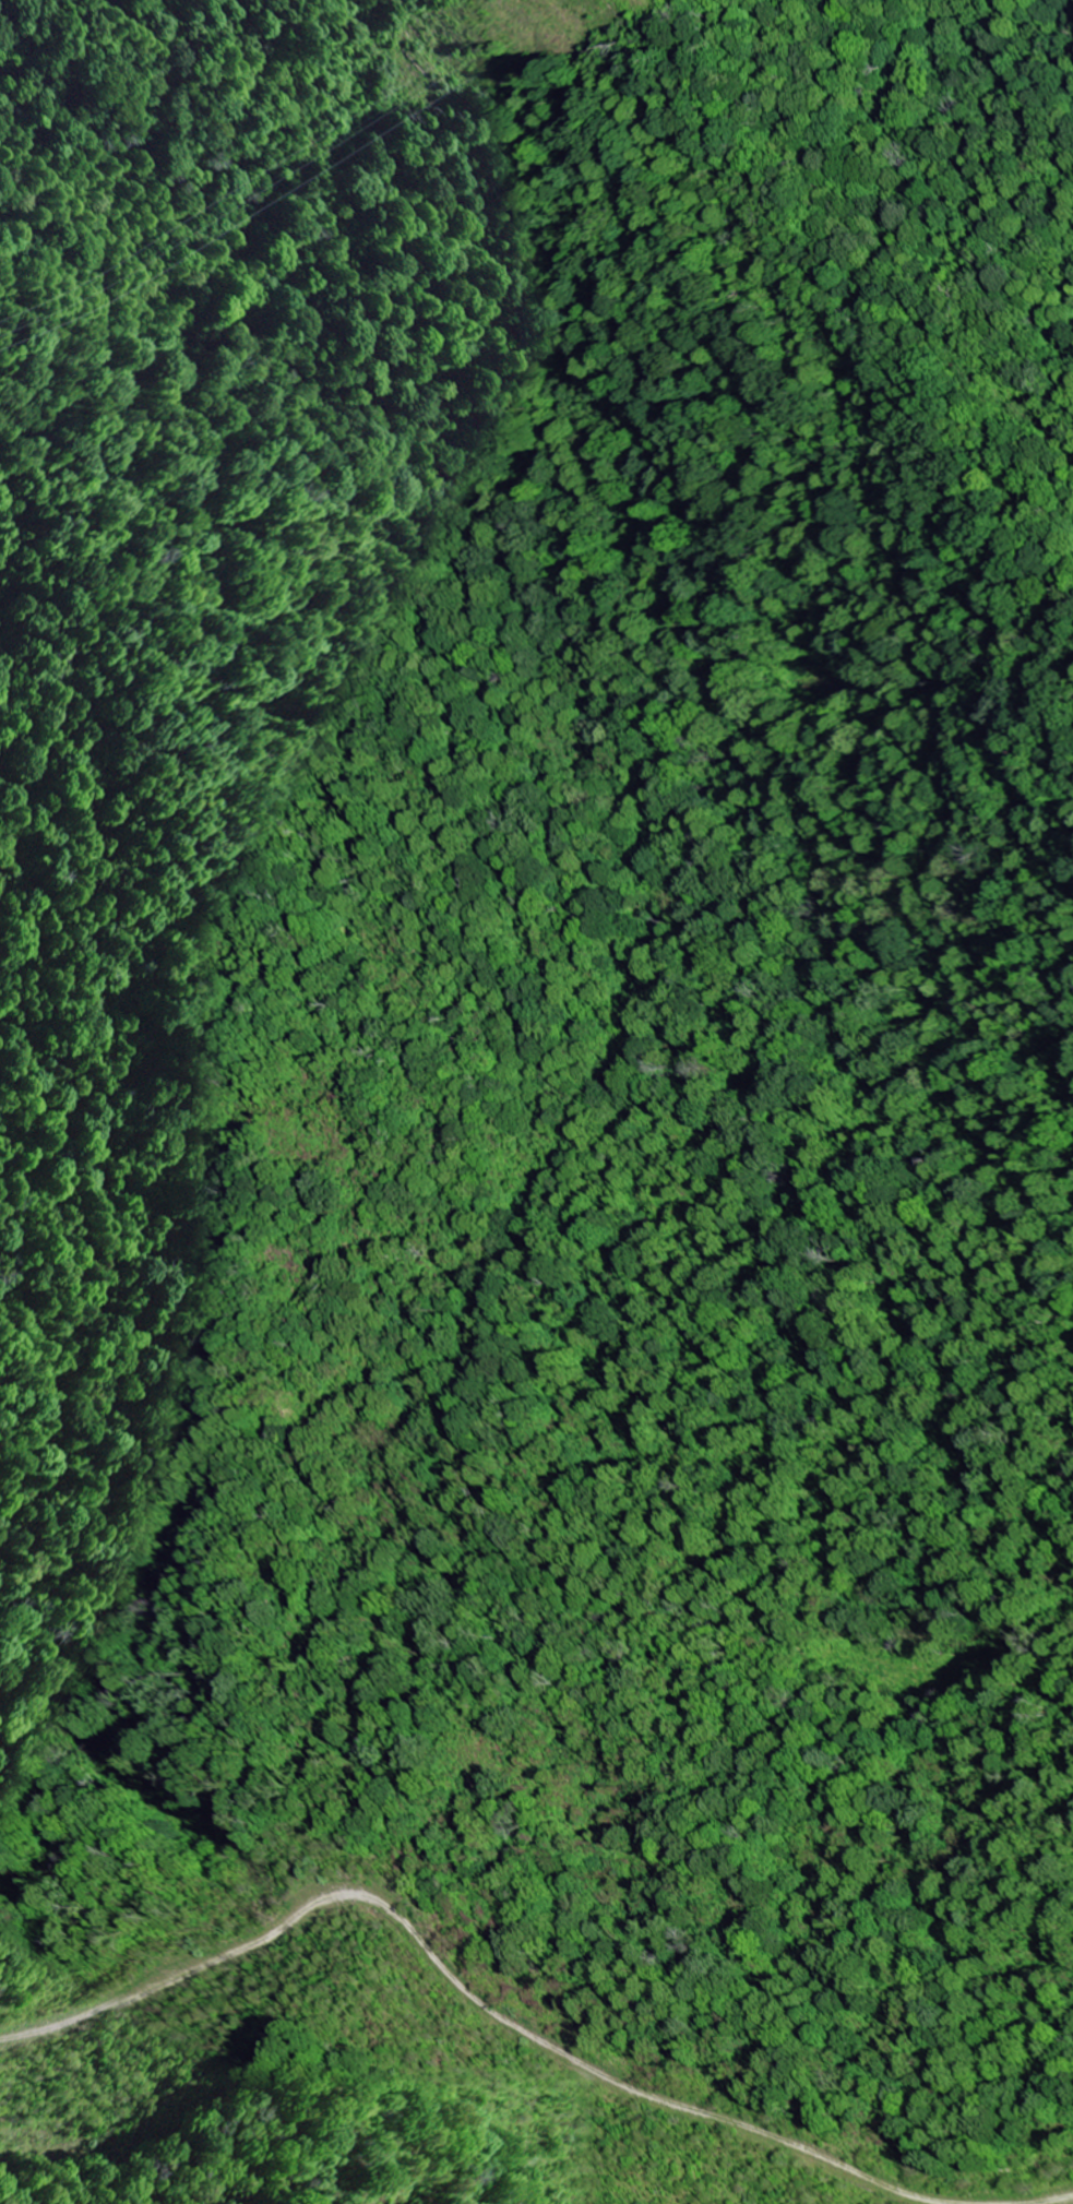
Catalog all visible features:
road: (327, 2027)

